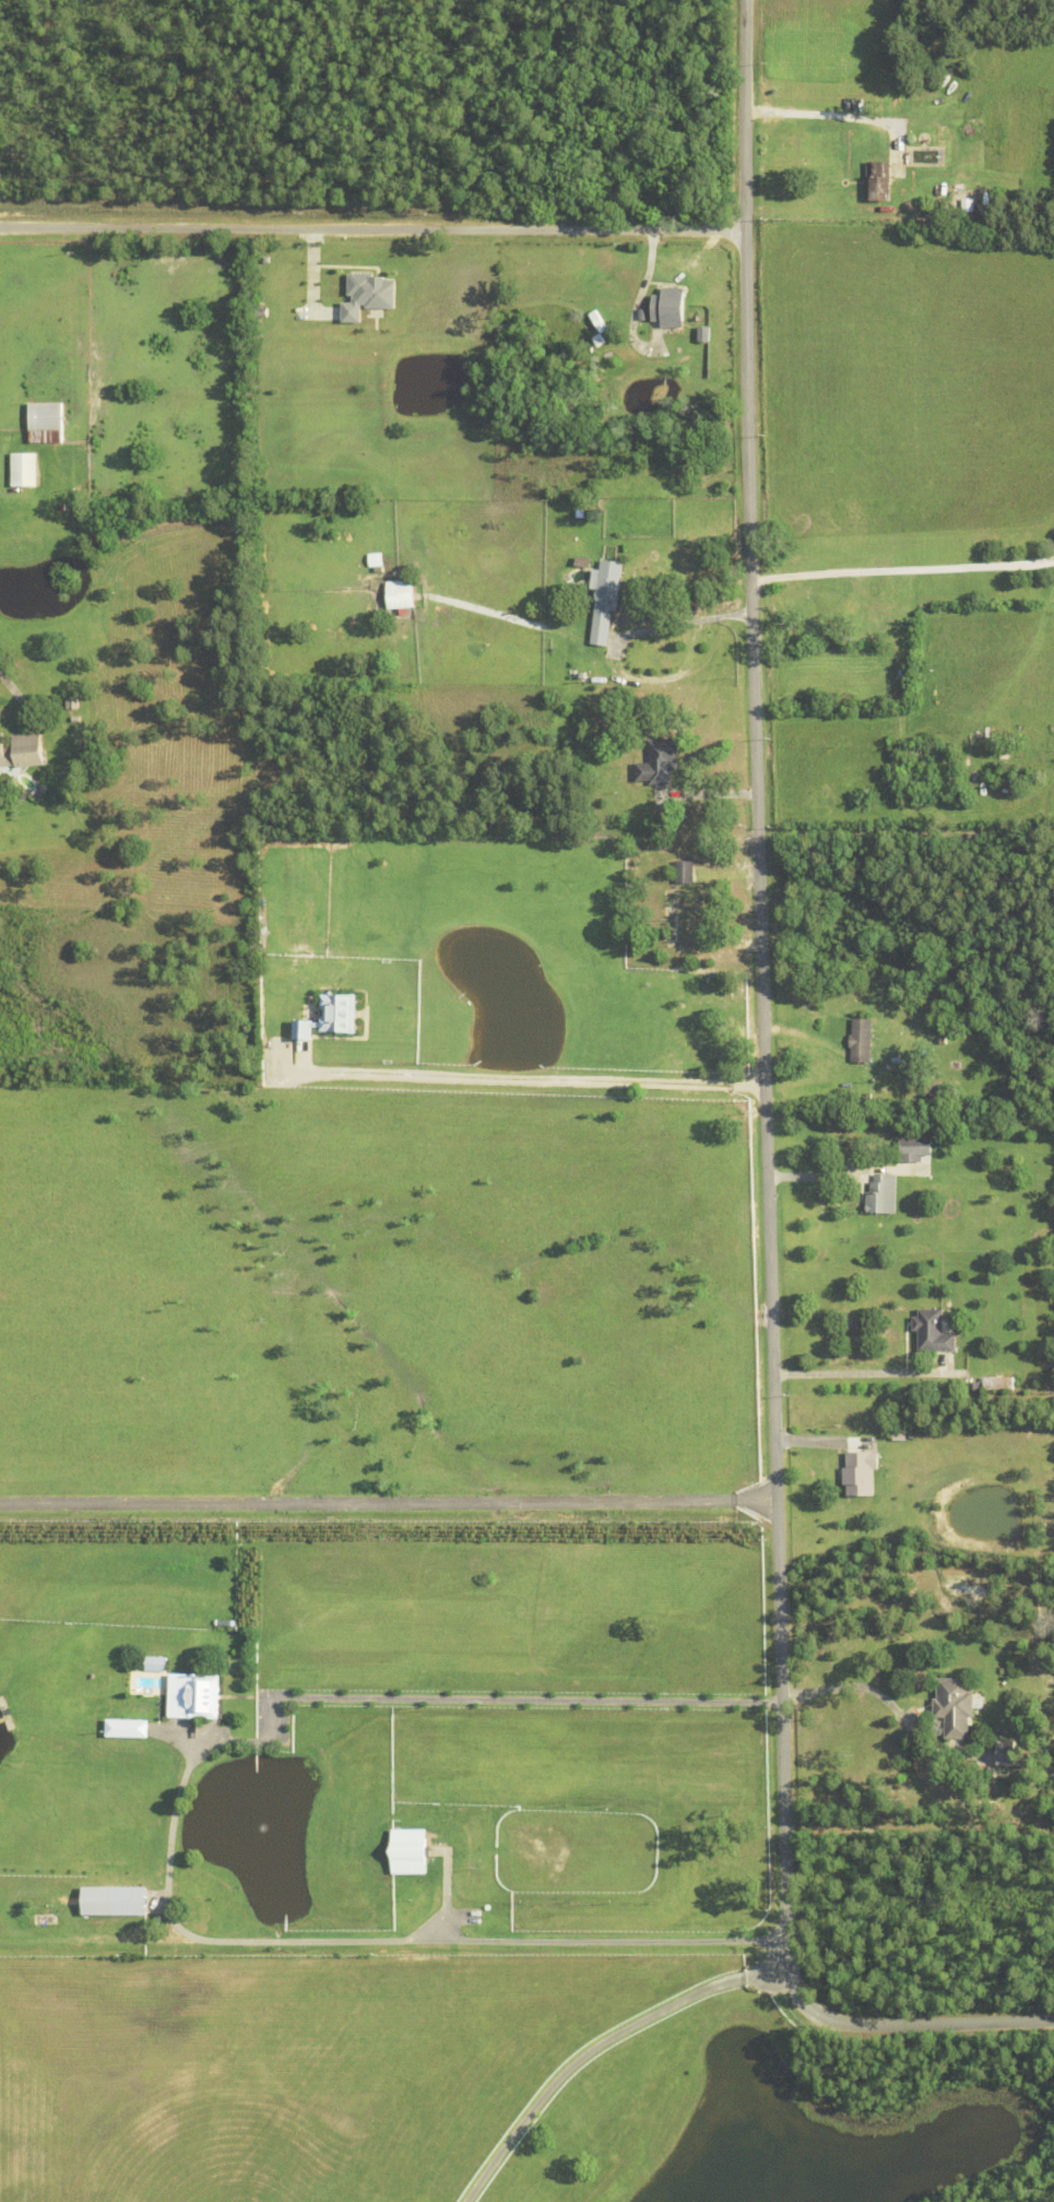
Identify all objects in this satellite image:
road: (816, 120)
building: (880, 181)
building: (966, 188)
road: (372, 228)
building: (640, 264)
building: (368, 296)
building: (668, 308)
building: (599, 322)
building: (620, 330)
building: (703, 335)
building: (601, 340)
building: (46, 425)
building: (23, 471)
building: (592, 517)
building: (582, 563)
road: (903, 577)
building: (400, 595)
building: (605, 601)
road: (615, 646)
building: (71, 706)
building: (75, 721)
building: (919, 750)
building: (22, 753)
building: (659, 763)
building: (40, 792)
building: (910, 795)
building: (271, 842)
building: (685, 874)
building: (672, 920)
building: (331, 1020)
building: (861, 1043)
building: (899, 1064)
road: (511, 1082)
building: (940, 1093)
road: (756, 1129)
building: (913, 1151)
road: (824, 1179)
building: (883, 1197)
building: (933, 1329)
road: (848, 1375)
building: (998, 1383)
building: (974, 1384)
building: (900, 1433)
building: (860, 1471)
building: (162, 1660)
road: (867, 1689)
building: (197, 1696)
road: (366, 1698)
building: (955, 1704)
building: (127, 1727)
building: (1008, 1753)
building: (408, 1850)
building: (411, 1889)
building: (130, 1901)
building: (487, 1917)
road: (489, 1940)
road: (603, 2048)

